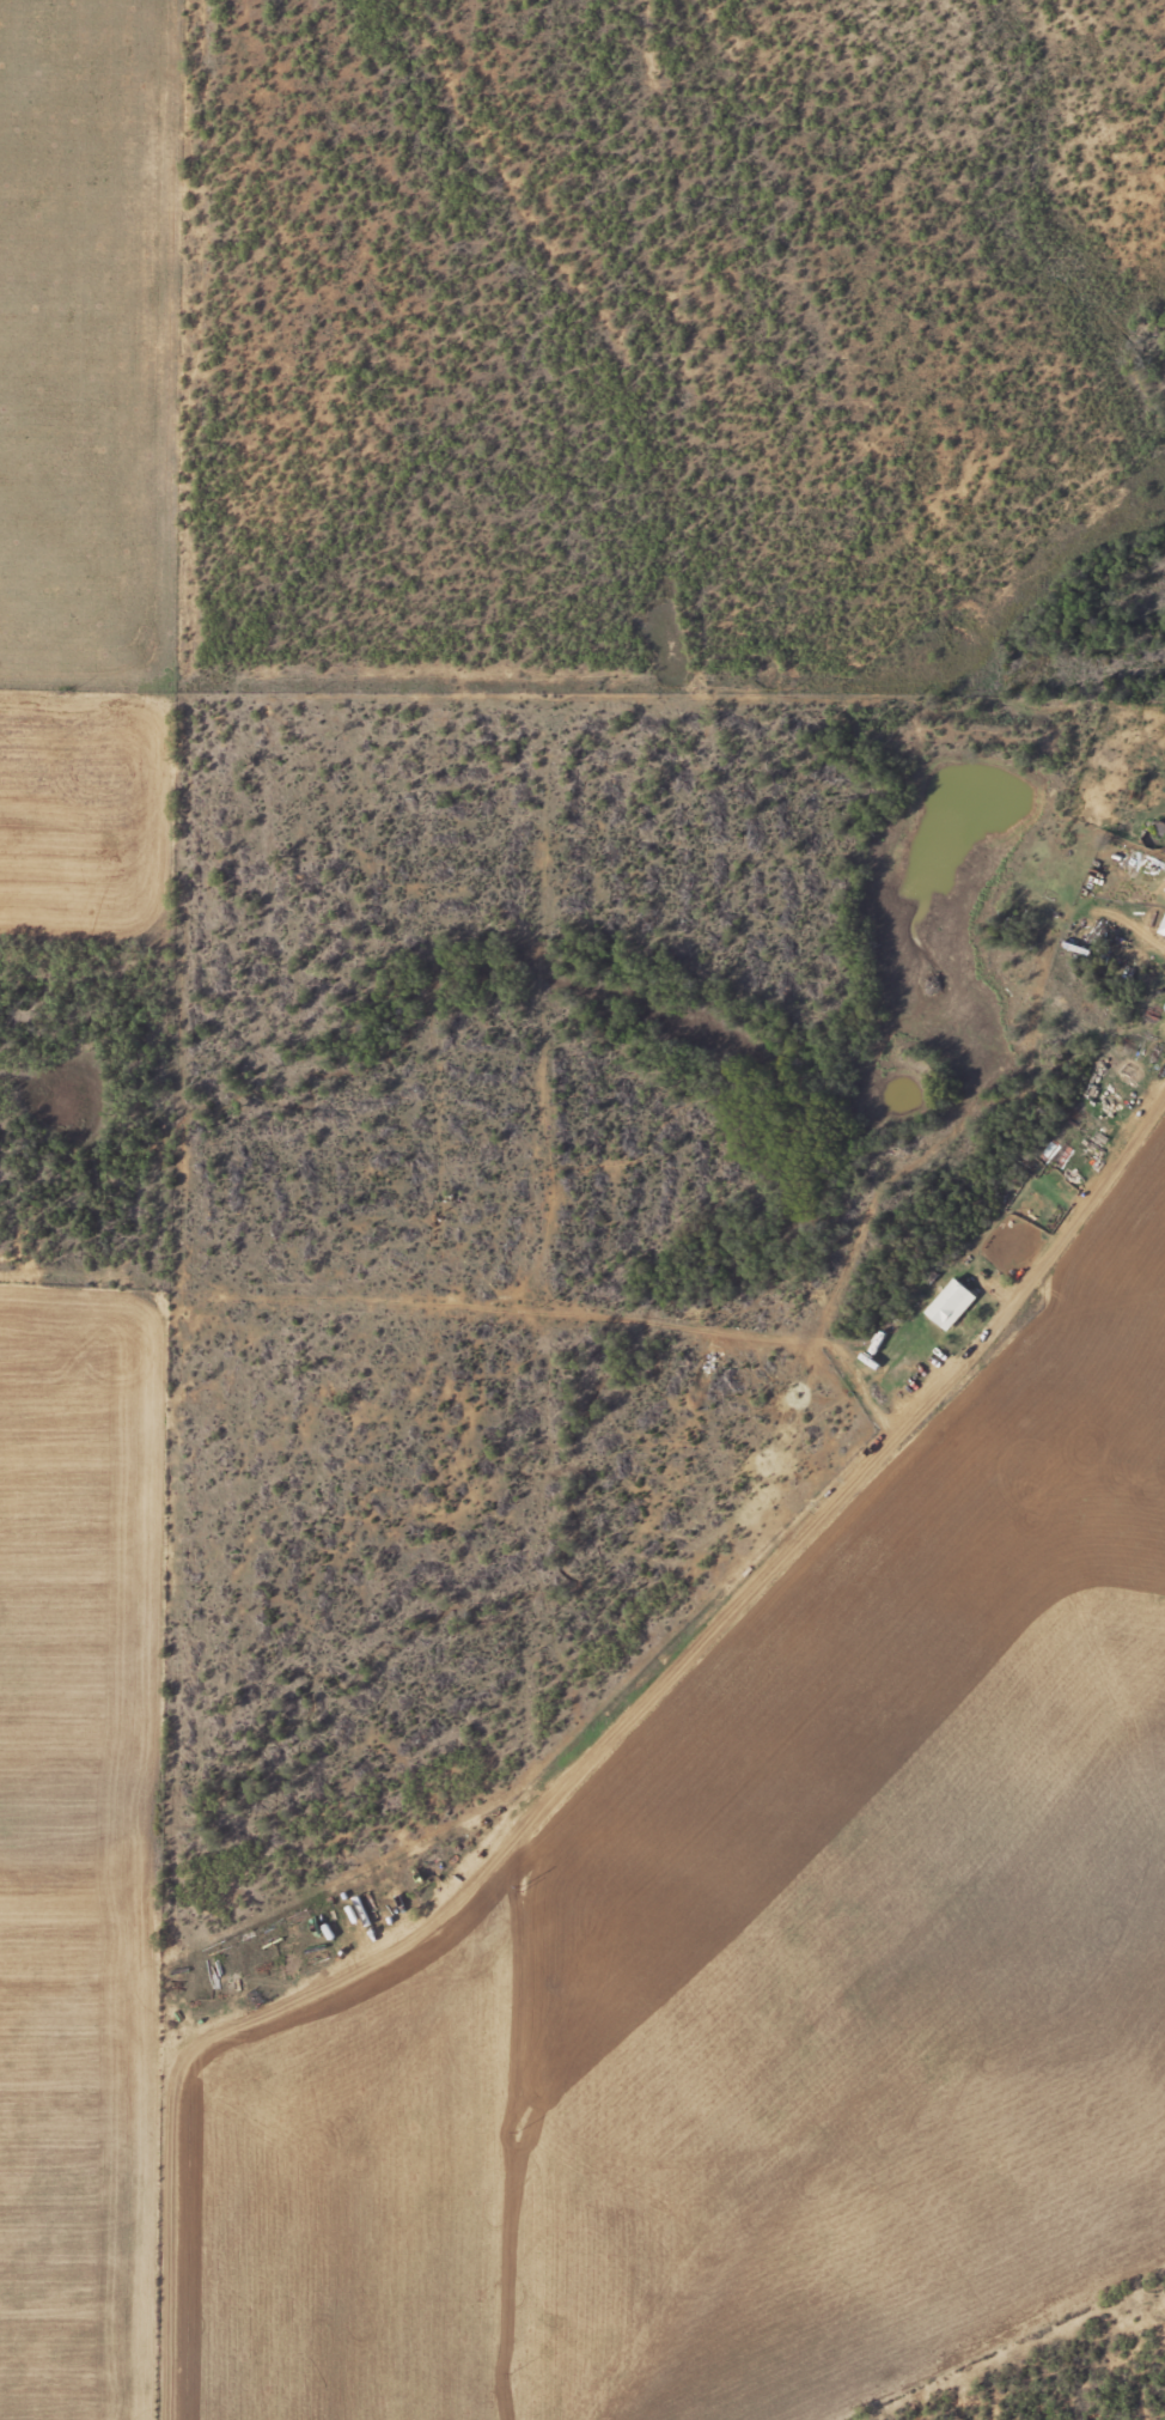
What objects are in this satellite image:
building: (1161, 925)
building: (972, 1279)
building: (944, 1302)

